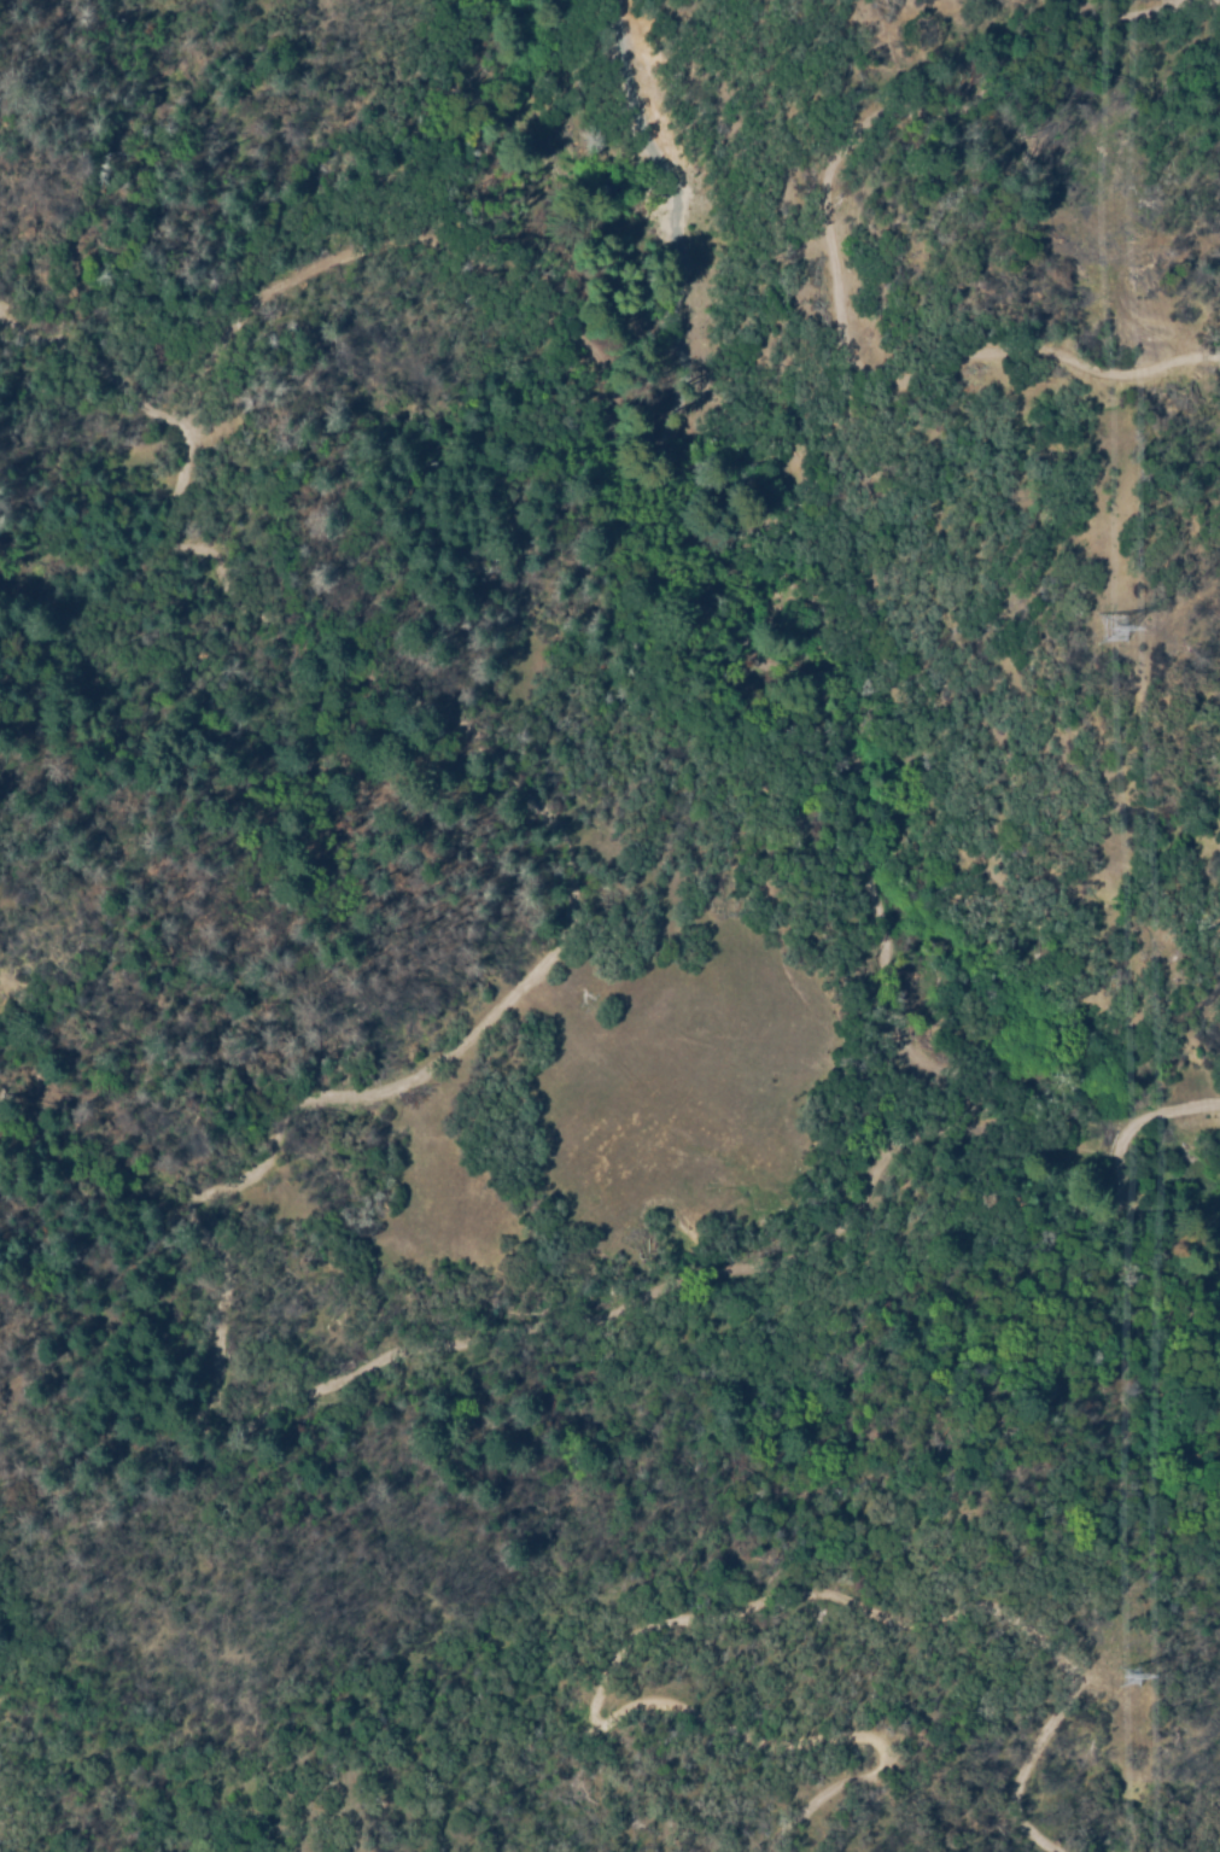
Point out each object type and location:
power tower: (1115, 630)
power tower: (1136, 1678)

